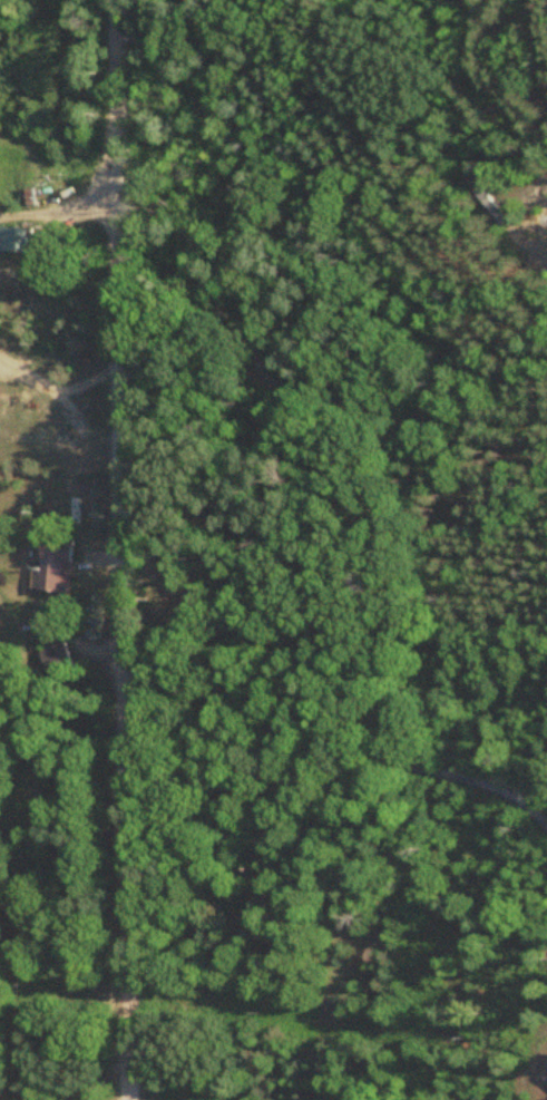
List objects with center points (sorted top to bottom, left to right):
building: (14, 236)
road: (117, 549)
building: (57, 561)
building: (56, 655)

